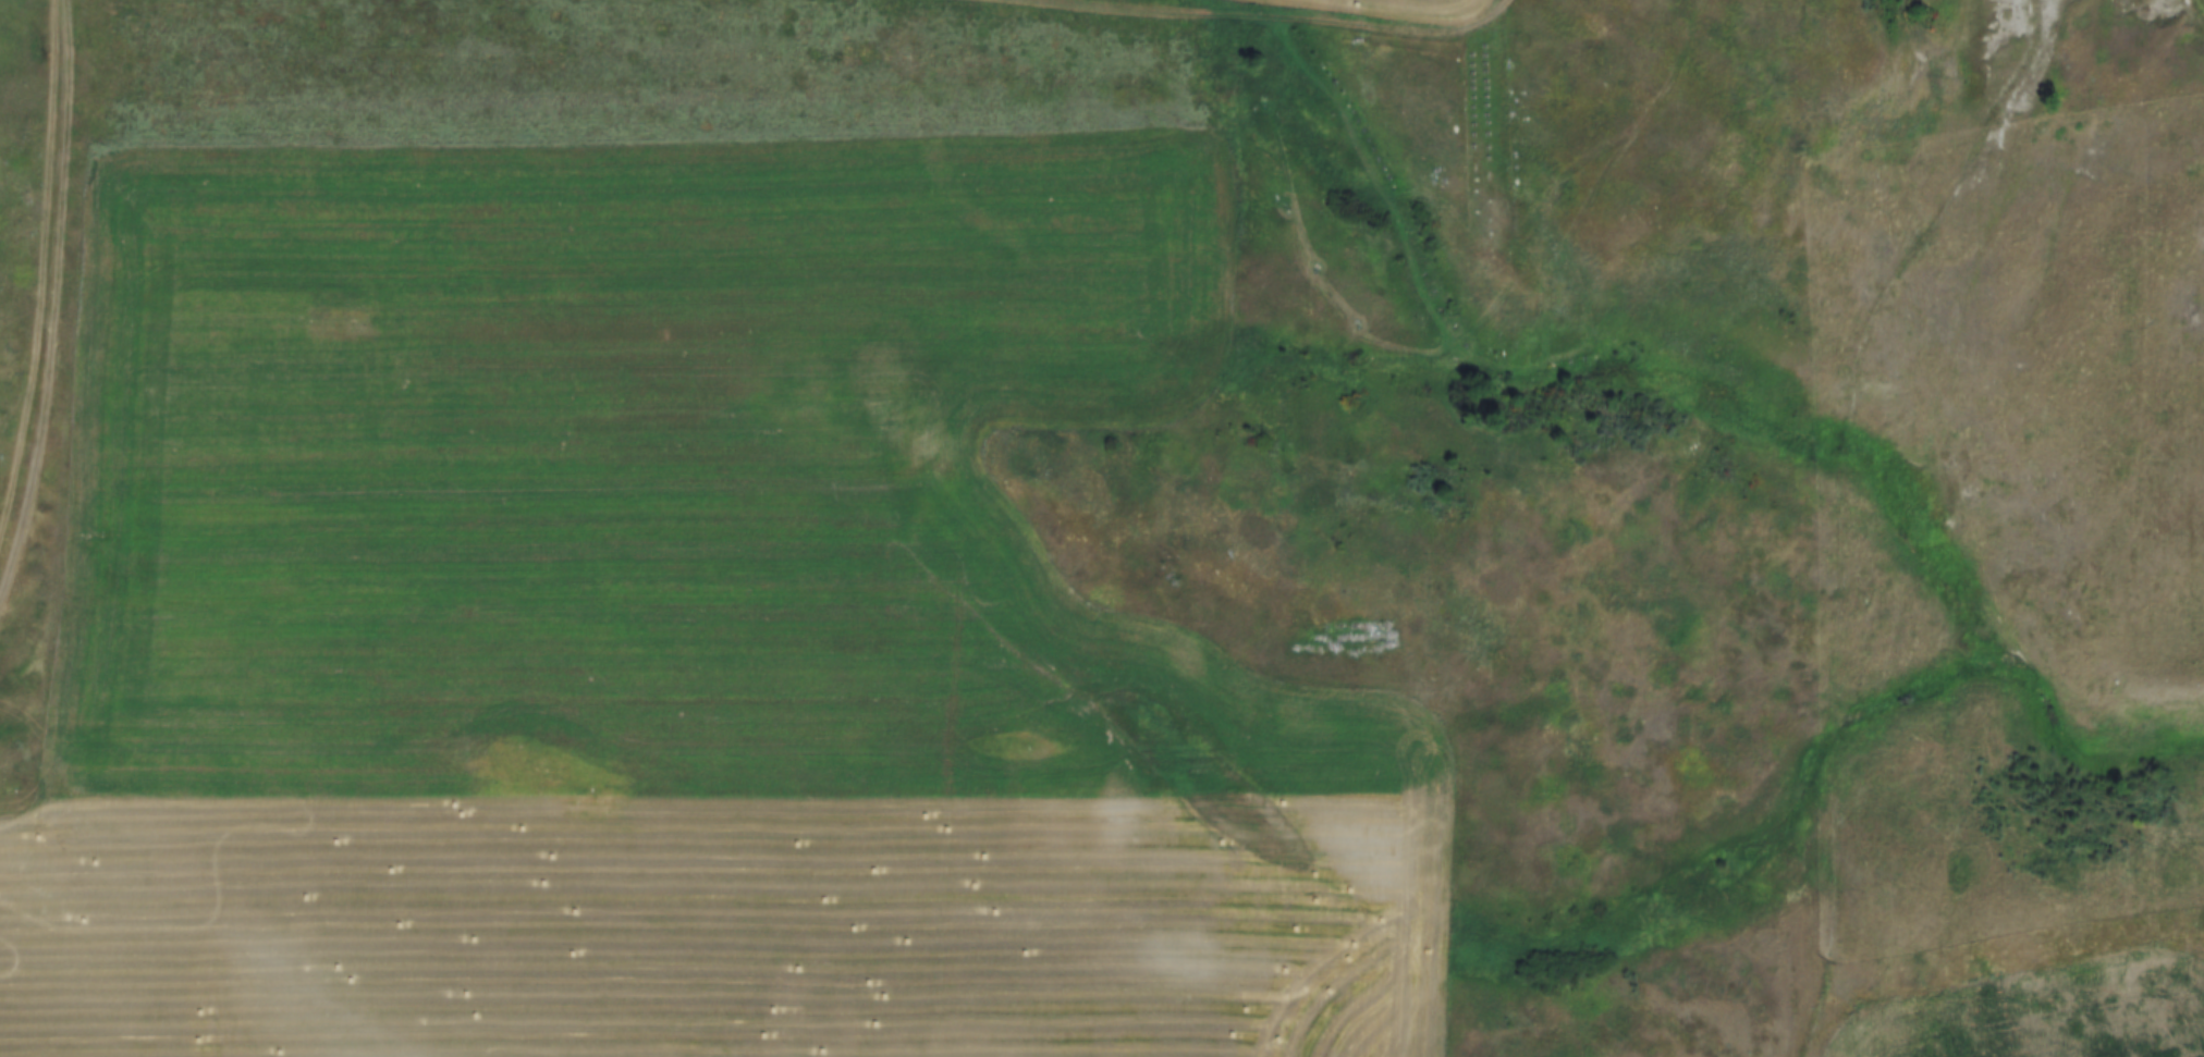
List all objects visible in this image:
road: (53, 309)

